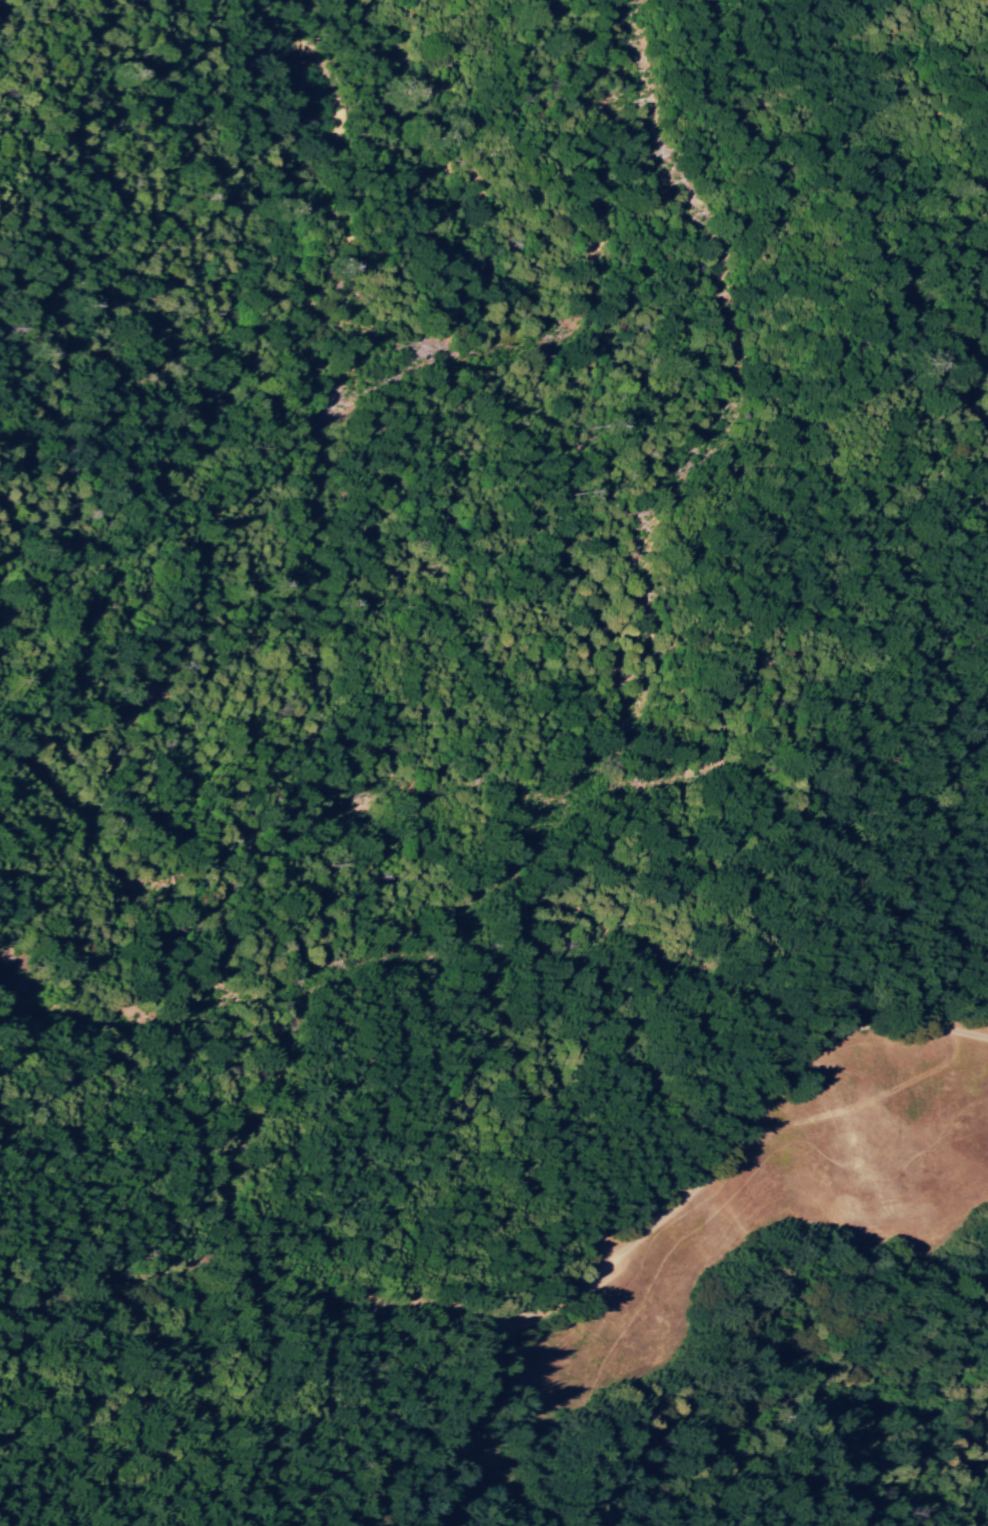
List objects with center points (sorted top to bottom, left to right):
road: (542, 1318)
road: (537, 1429)

